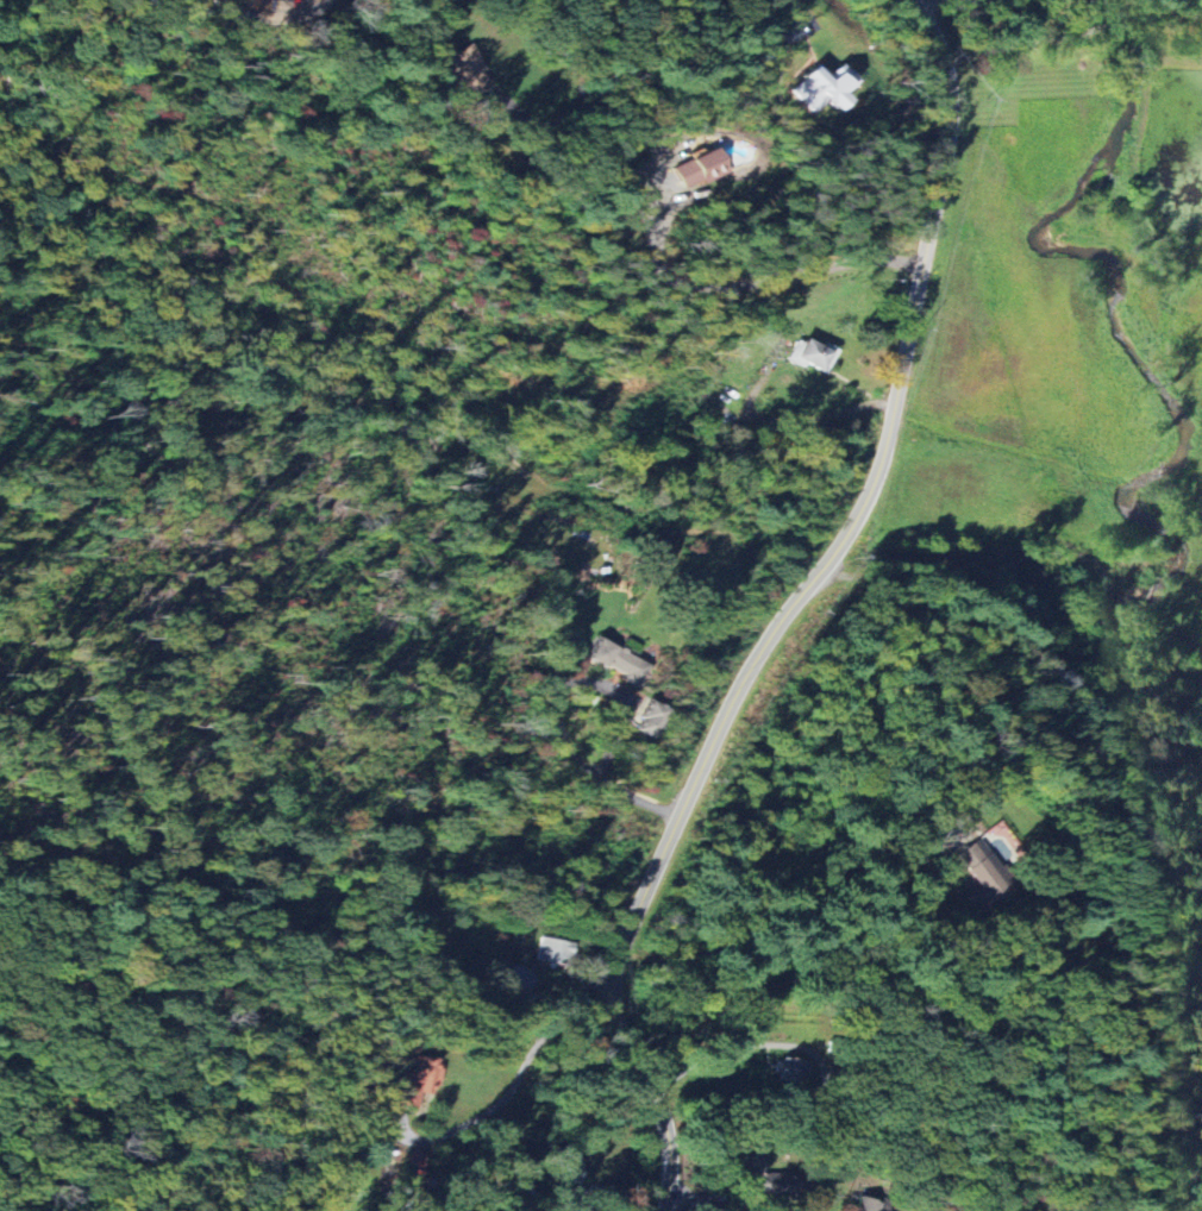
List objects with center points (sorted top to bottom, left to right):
road: (924, 5)
road: (797, 13)
road: (1159, 17)
road: (277, 21)
road: (1101, 26)
road: (1014, 42)
building: (467, 70)
building: (826, 88)
building: (702, 169)
road: (749, 283)
building: (815, 354)
road: (794, 610)
building: (624, 659)
road: (555, 711)
building: (651, 720)
building: (984, 876)
building: (555, 952)
road: (808, 974)
building: (521, 978)
road: (515, 1079)
building: (417, 1171)
building: (768, 1177)
road: (595, 1185)
road: (683, 1205)
building: (871, 1205)

